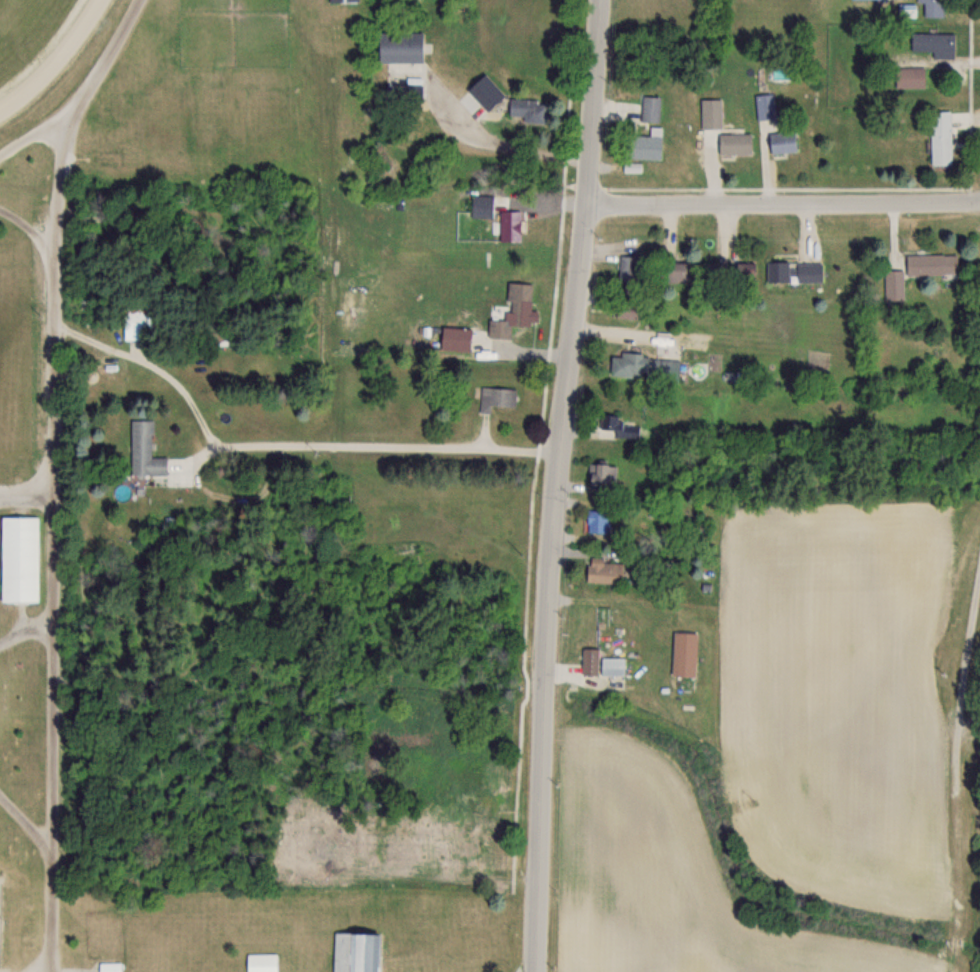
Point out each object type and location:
building: (341, 1)
building: (932, 7)
building: (932, 41)
building: (398, 47)
track: (53, 56)
building: (908, 76)
building: (404, 91)
building: (484, 91)
building: (764, 105)
building: (650, 108)
building: (526, 110)
building: (711, 113)
road: (23, 121)
building: (782, 141)
road: (493, 143)
building: (733, 143)
building: (642, 145)
building: (939, 148)
building: (481, 206)
road: (783, 211)
building: (510, 225)
building: (930, 264)
building: (628, 269)
building: (740, 270)
building: (776, 270)
building: (807, 271)
building: (674, 272)
building: (893, 284)
building: (517, 304)
building: (625, 310)
building: (133, 322)
building: (644, 366)
building: (496, 398)
building: (612, 426)
road: (372, 445)
building: (143, 451)
road: (48, 471)
building: (600, 475)
road: (553, 485)
road: (24, 494)
building: (595, 521)
park: (38, 532)
building: (18, 558)
building: (603, 570)
road: (25, 634)
building: (683, 653)
building: (589, 661)
building: (613, 665)
road: (24, 823)
building: (354, 952)
building: (261, 962)
building: (110, 967)

